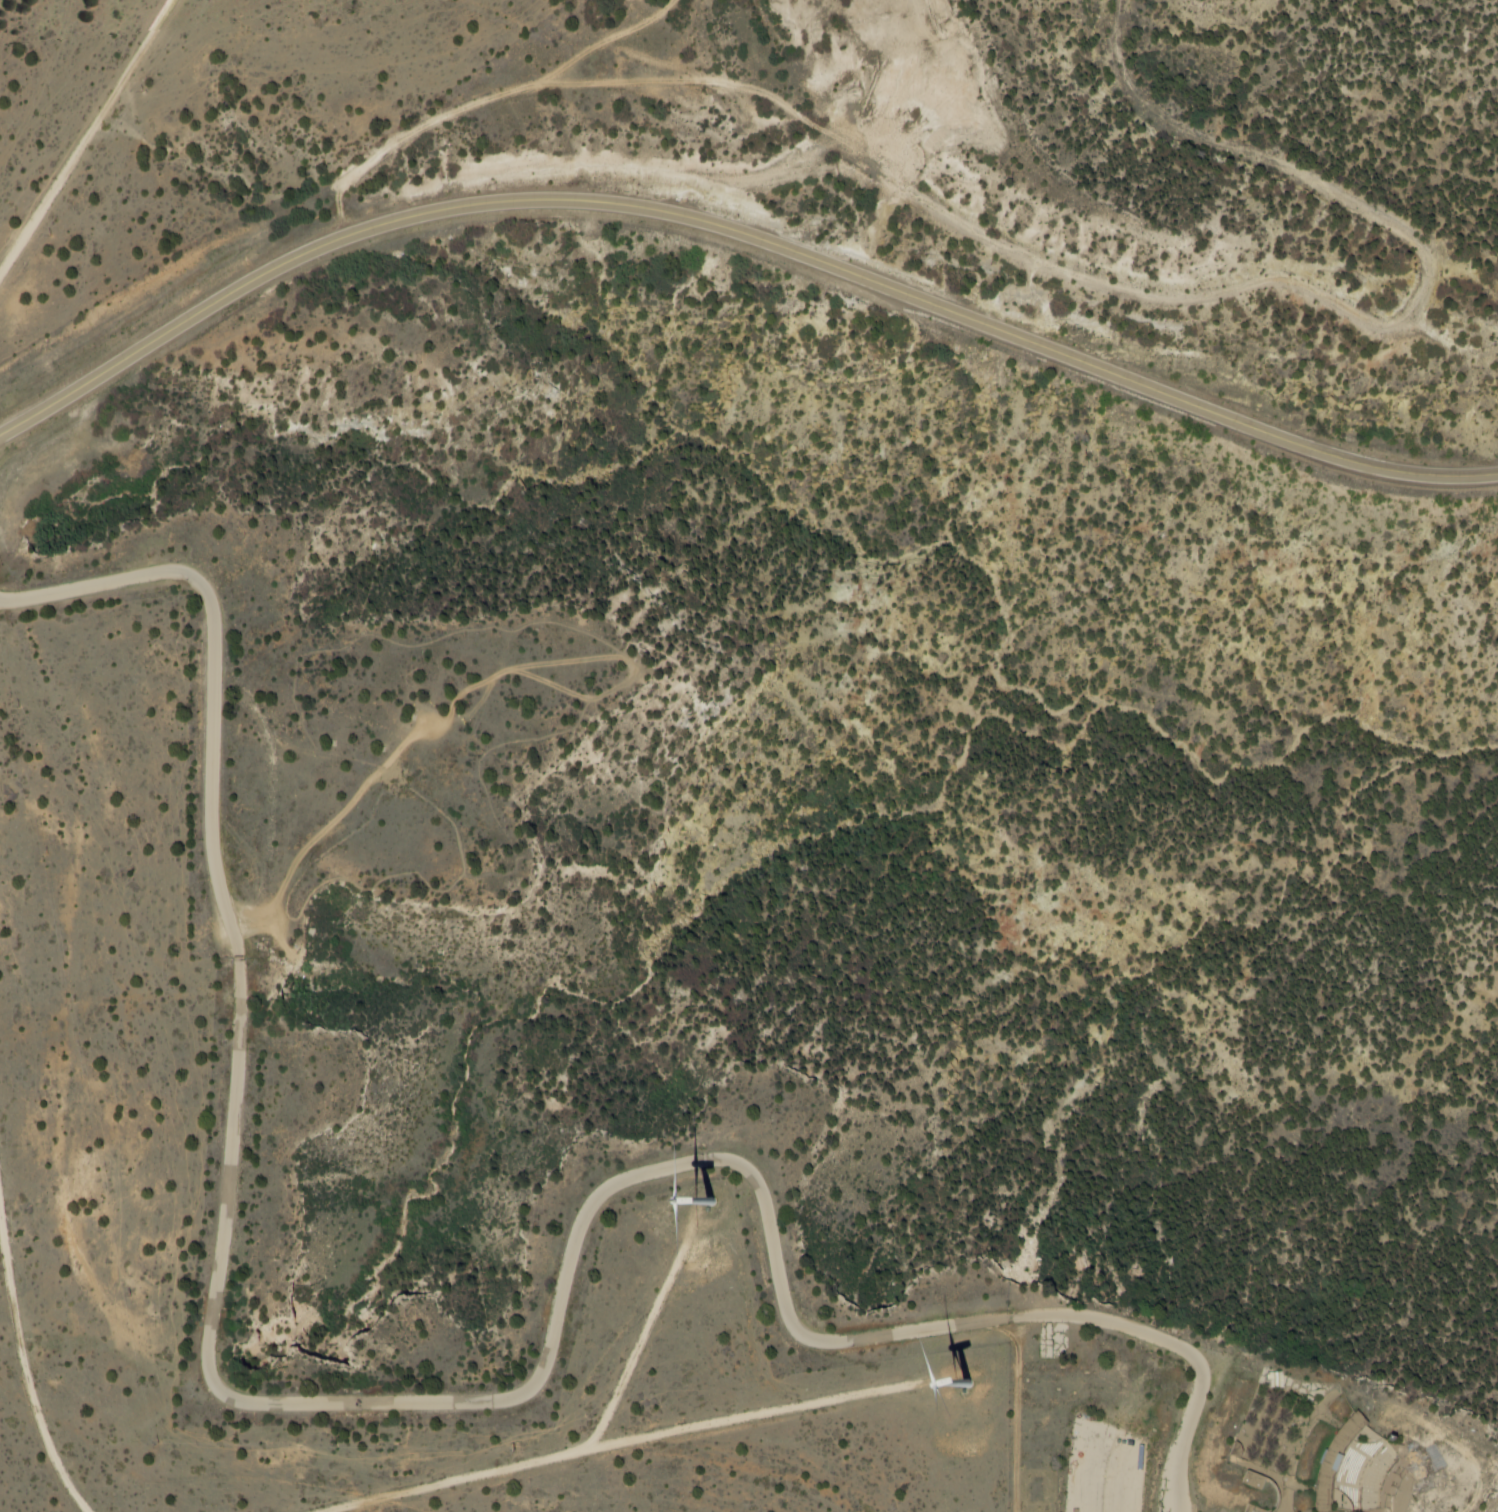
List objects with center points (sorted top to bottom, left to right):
road: (87, 135)
road: (739, 233)
road: (1076, 273)
road: (386, 639)
road: (564, 662)
road: (489, 750)
road: (358, 790)
road: (439, 809)
road: (341, 840)
road: (524, 856)
road: (495, 876)
road: (378, 880)
road: (276, 909)
road: (290, 919)
parking lot: (254, 923)
park: (270, 952)
road: (293, 960)
wind turbine: (707, 1201)
road: (1007, 1329)
road: (1019, 1330)
road: (638, 1348)
road: (24, 1372)
building: (1276, 1376)
wind turbine: (968, 1387)
road: (417, 1402)
road: (751, 1416)
road: (1014, 1429)
building: (1395, 1438)
building: (1238, 1449)
building: (1335, 1460)
parking lot: (1102, 1467)
building: (1361, 1472)
building: (1253, 1480)
road: (449, 1483)
building: (1253, 1508)

